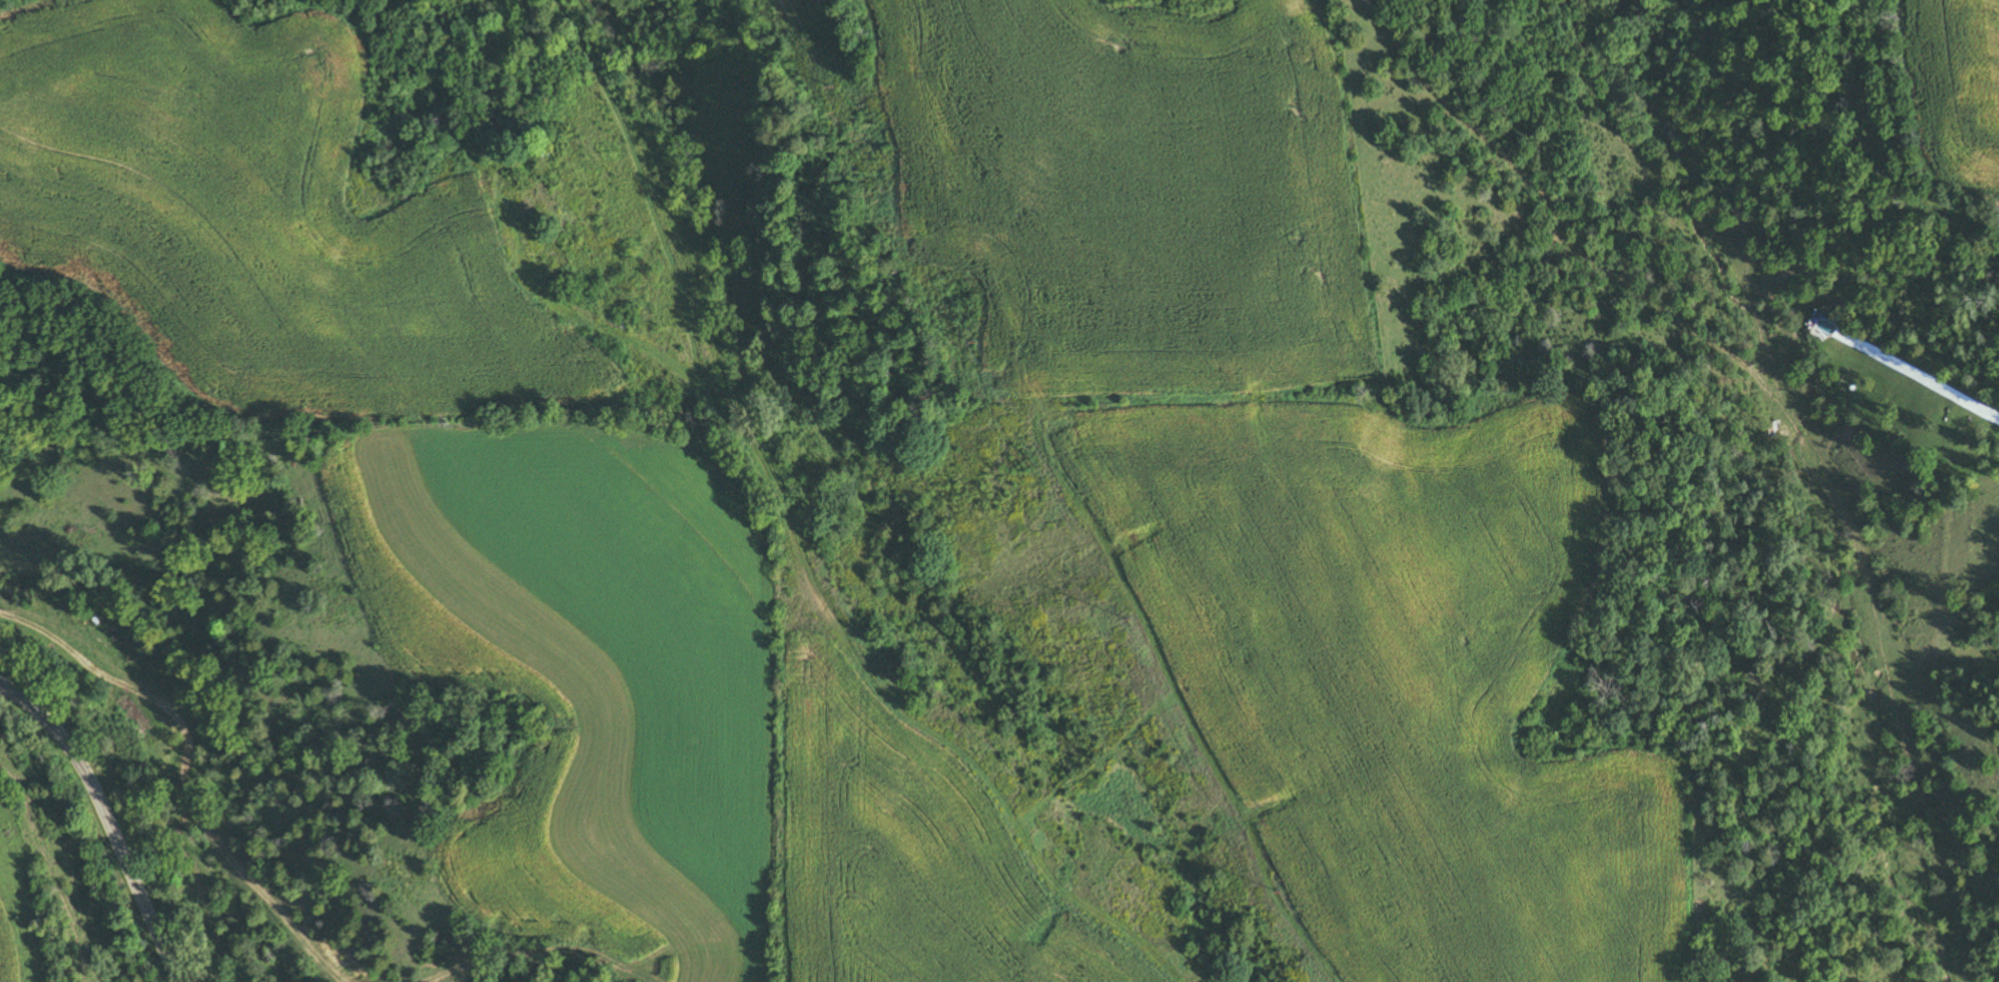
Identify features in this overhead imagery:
road: (185, 775)
road: (106, 822)
road: (516, 956)

